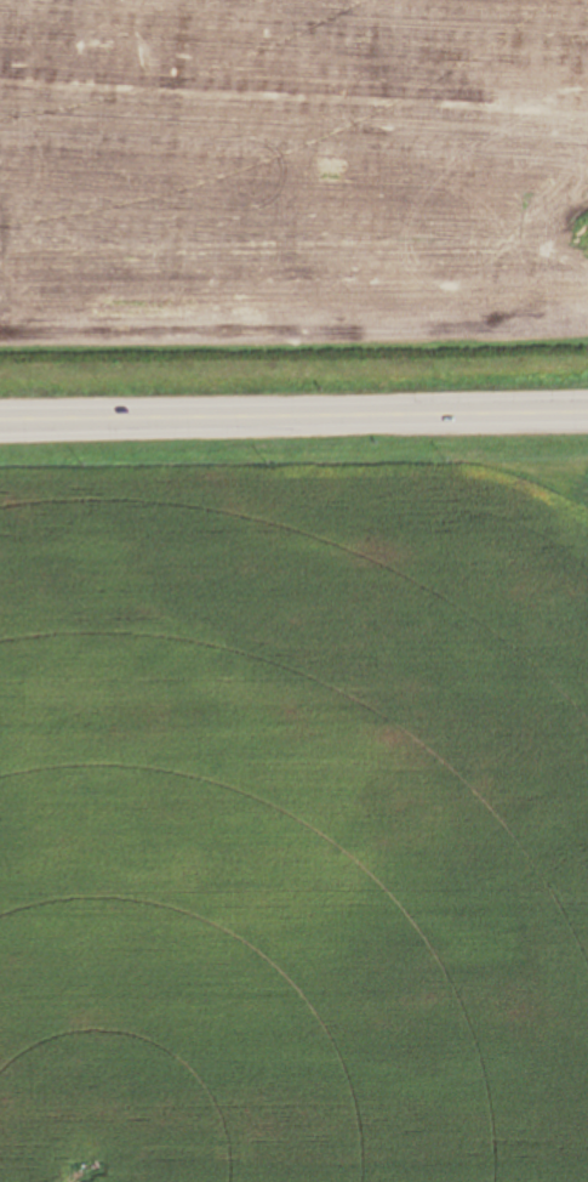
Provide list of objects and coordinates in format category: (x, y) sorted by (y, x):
road: (293, 415)

